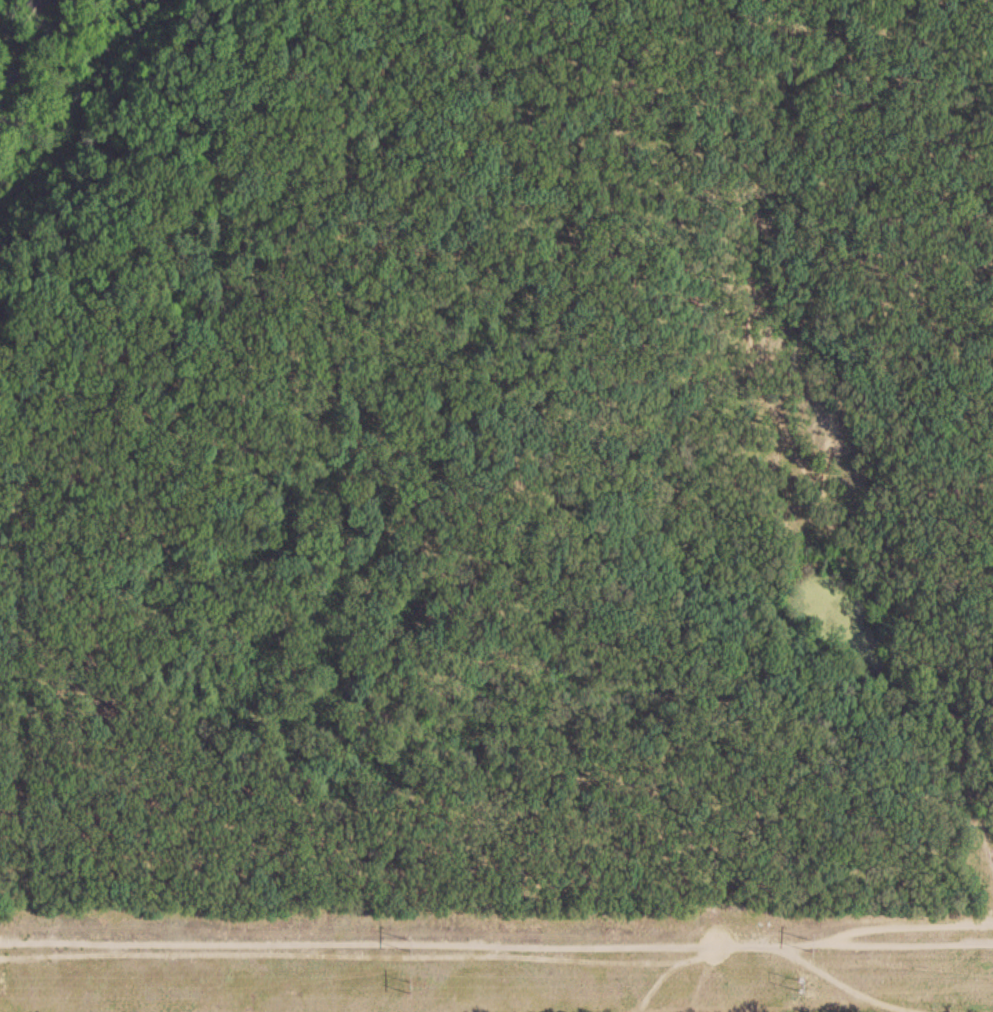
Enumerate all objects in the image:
power tower: (407, 942)
power tower: (809, 943)
power tower: (407, 986)
power tower: (0, 987)
power tower: (805, 987)

